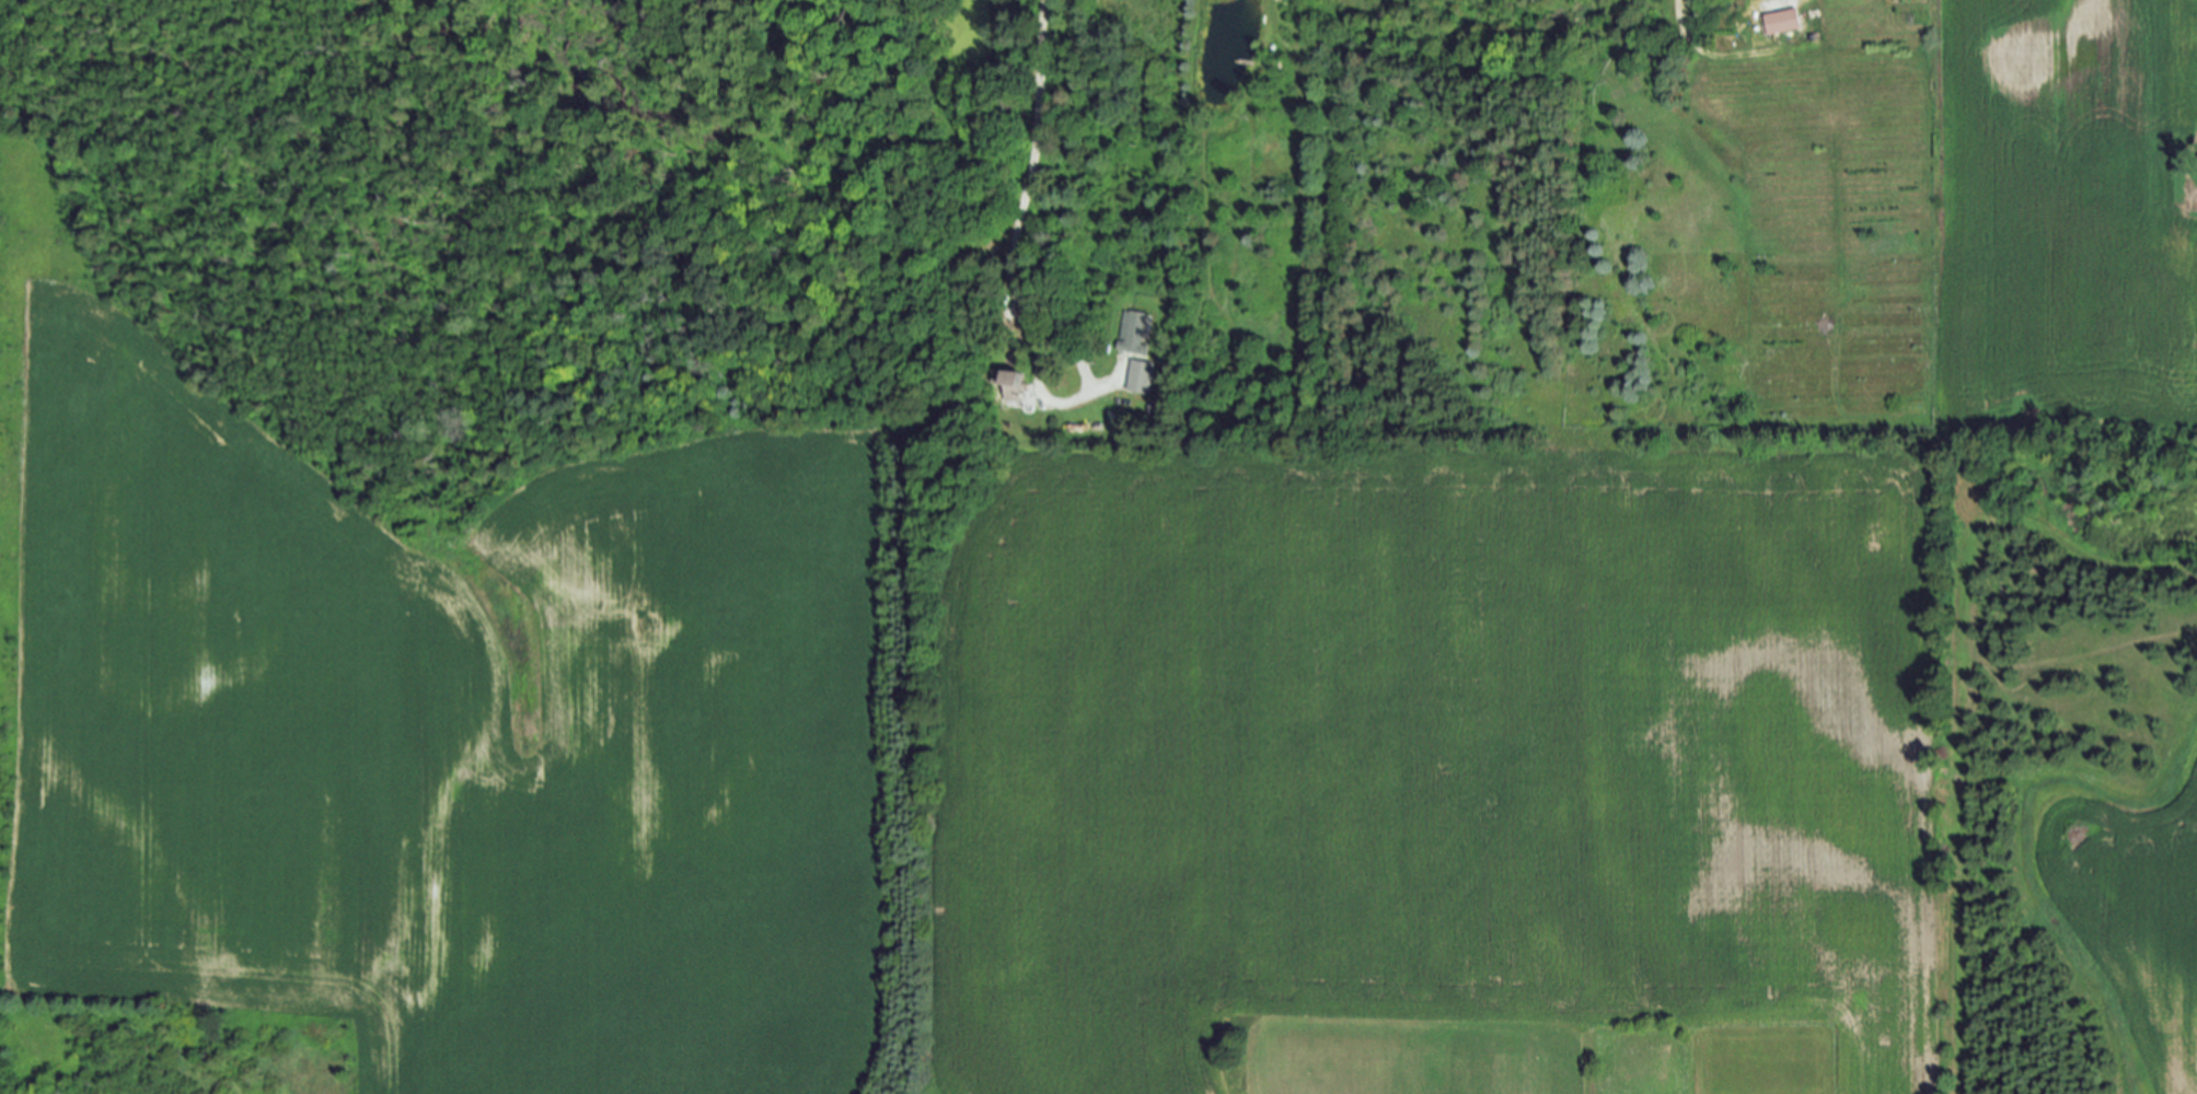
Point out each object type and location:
building: (1781, 22)
road: (1709, 53)
road: (1038, 144)
building: (1134, 333)
building: (1141, 377)
building: (1013, 385)
road: (1072, 403)

